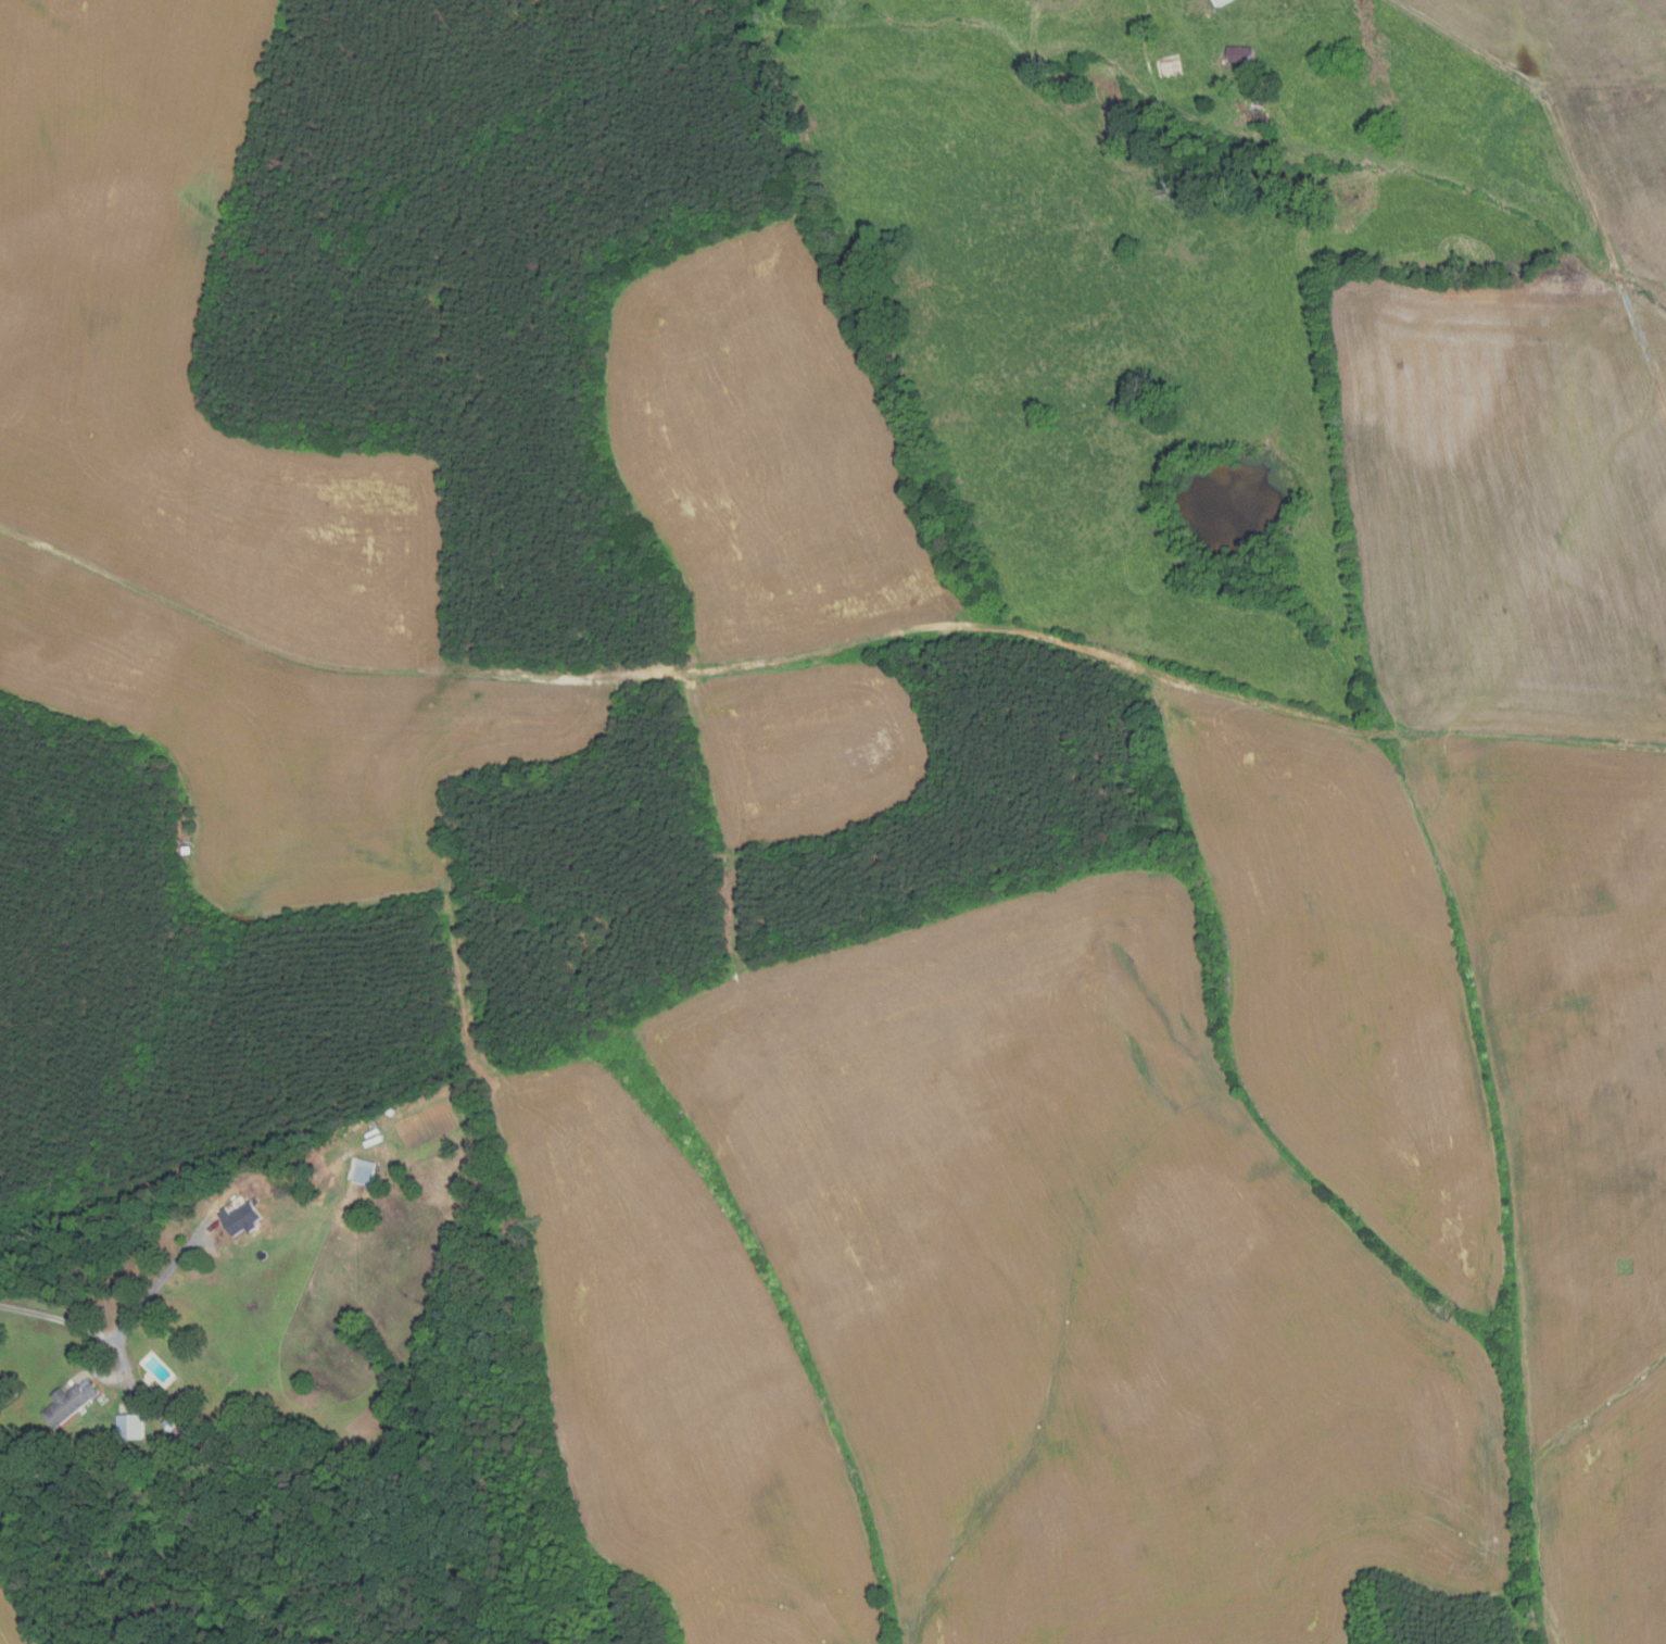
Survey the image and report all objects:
building: (1222, 2)
building: (1239, 54)
building: (1170, 65)
road: (1579, 172)
crop: (174, 348)
crop: (765, 448)
road: (825, 647)
crop: (283, 740)
crop: (807, 749)
crop: (1490, 821)
building: (278, 1166)
building: (365, 1172)
building: (241, 1218)
road: (163, 1279)
crop: (1083, 1287)
road: (72, 1329)
crop: (679, 1377)
building: (67, 1405)
building: (176, 1418)
building: (130, 1427)
crop: (11, 1621)

